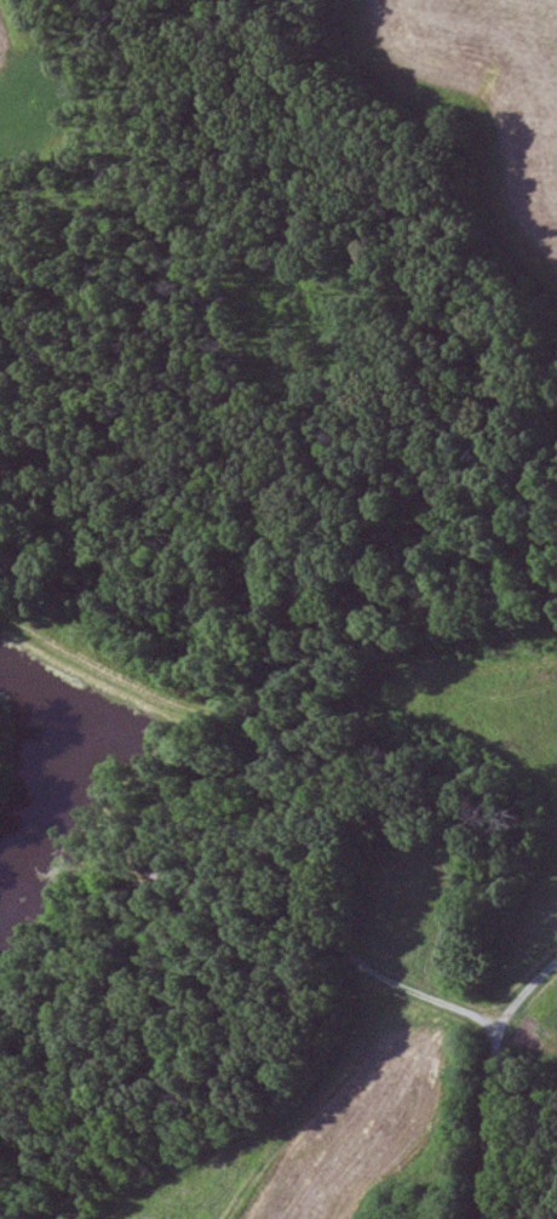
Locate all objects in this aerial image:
road: (426, 1003)
road: (498, 1087)

